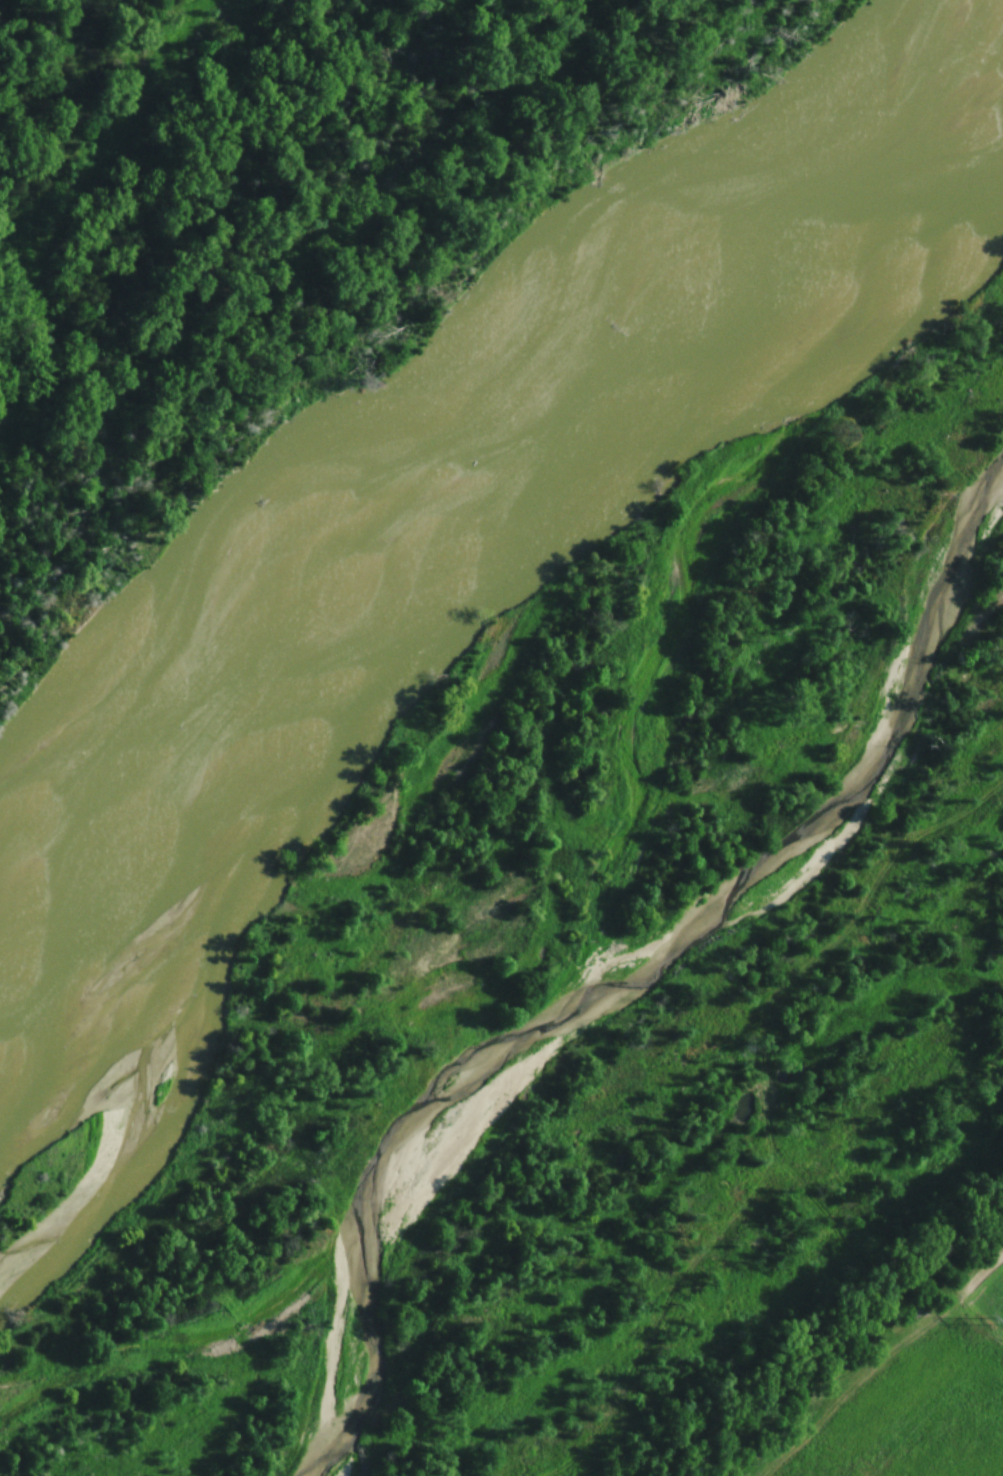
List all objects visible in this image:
river: (473, 519)
power tower: (985, 1322)

